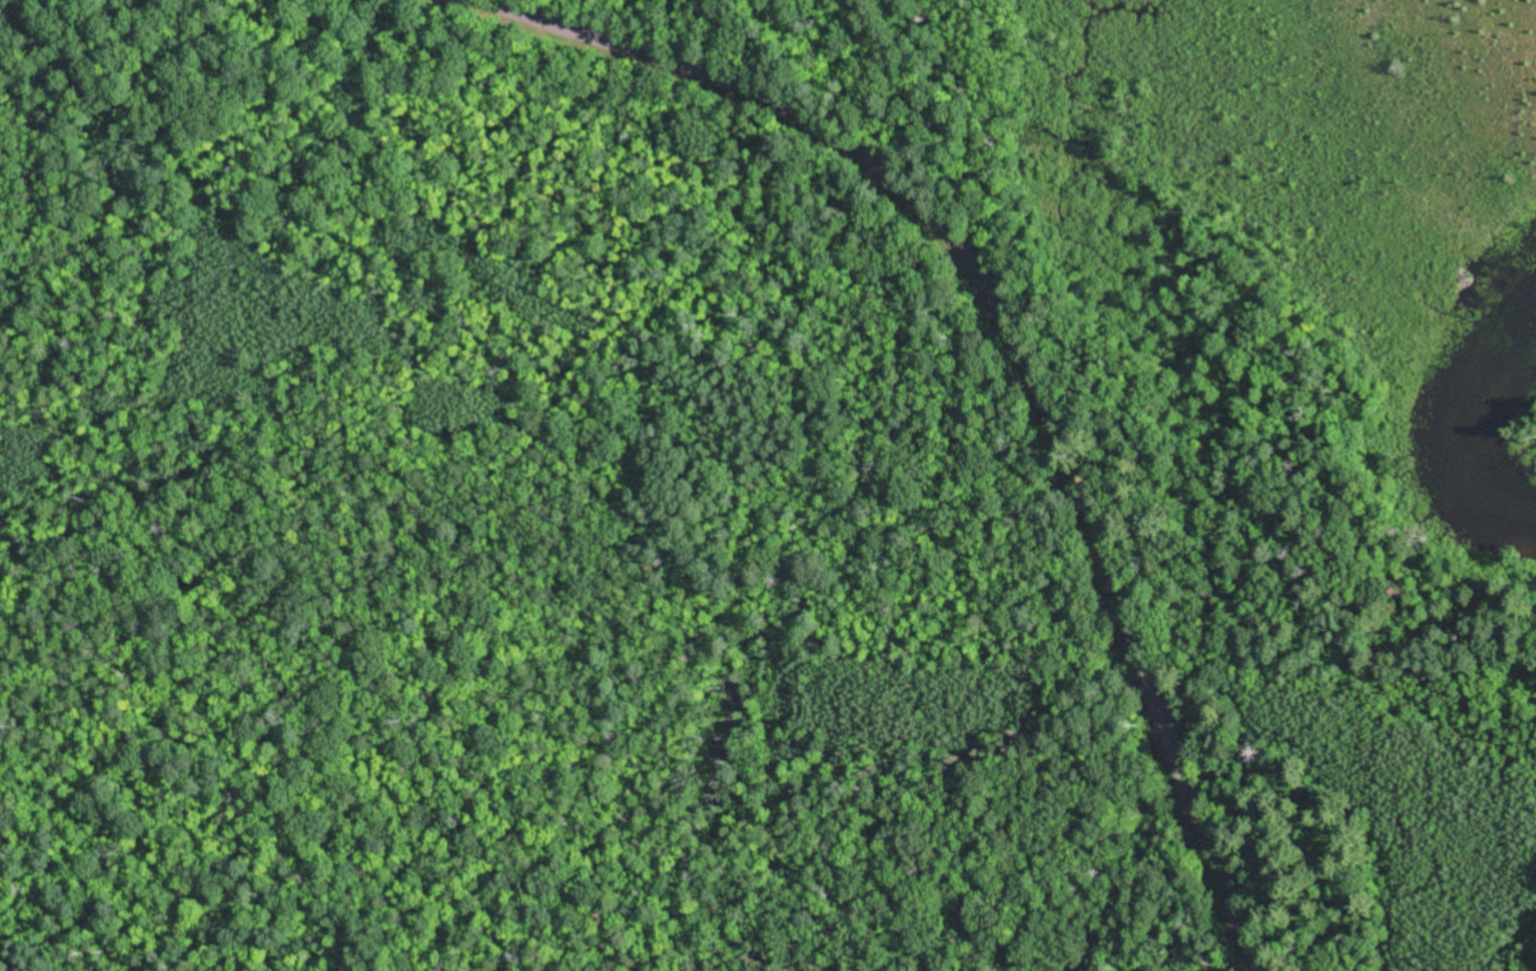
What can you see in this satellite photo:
road: (1024, 353)
river: (1473, 410)

